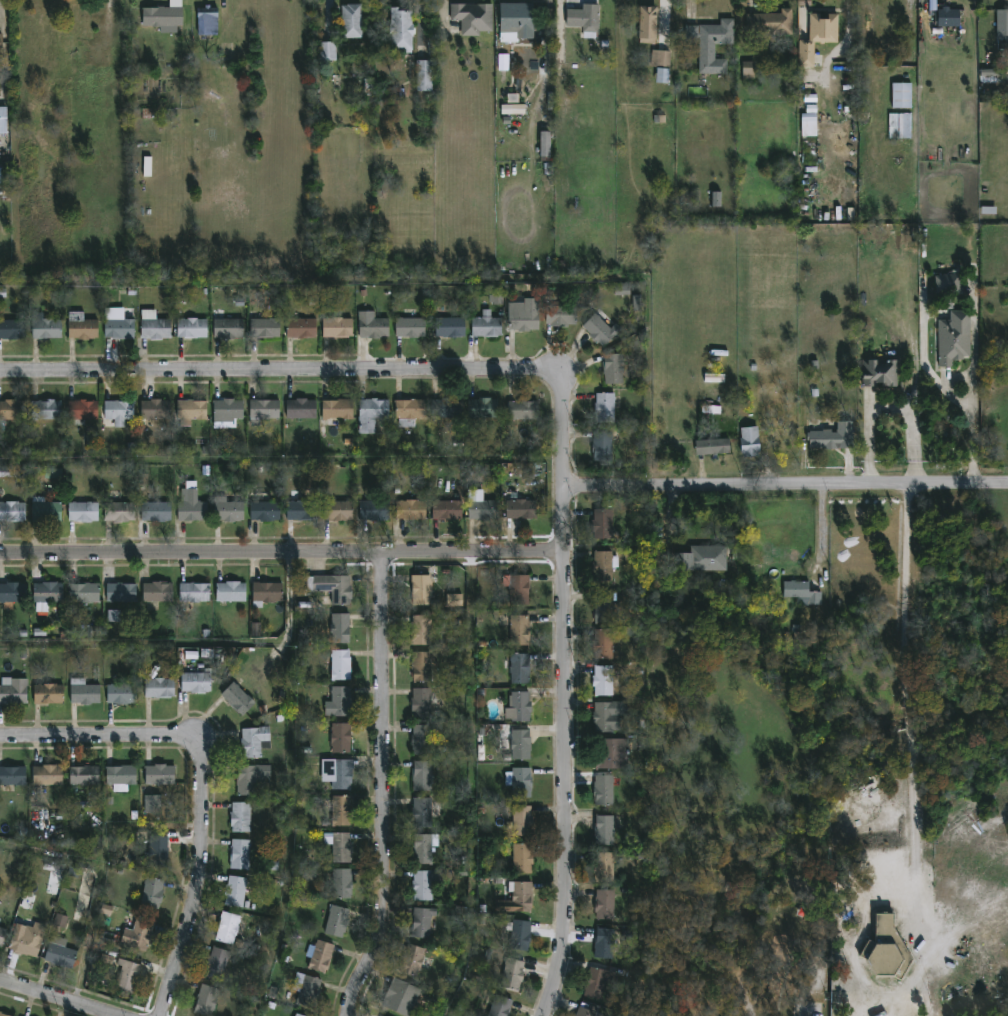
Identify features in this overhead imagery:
building: (803, 3)
building: (166, 16)
building: (475, 17)
building: (586, 17)
building: (945, 17)
building: (885, 19)
building: (353, 20)
building: (209, 21)
building: (519, 21)
building: (766, 22)
building: (651, 24)
building: (1001, 25)
building: (403, 30)
building: (814, 36)
building: (1, 43)
building: (710, 43)
building: (1006, 44)
building: (329, 50)
building: (663, 64)
building: (748, 70)
building: (988, 73)
building: (426, 75)
building: (899, 95)
building: (4, 120)
building: (806, 125)
building: (897, 127)
building: (544, 144)
building: (147, 166)
building: (3, 176)
building: (715, 199)
building: (948, 284)
building: (621, 289)
building: (496, 298)
building: (637, 303)
building: (526, 315)
building: (562, 315)
building: (156, 326)
building: (229, 326)
building: (374, 326)
building: (488, 326)
building: (47, 327)
building: (83, 327)
building: (339, 327)
building: (412, 327)
building: (452, 327)
building: (121, 328)
building: (194, 328)
building: (267, 328)
building: (303, 328)
building: (12, 329)
building: (604, 331)
building: (950, 343)
building: (617, 368)
road: (276, 371)
building: (878, 374)
building: (713, 378)
building: (608, 407)
building: (303, 408)
building: (448, 408)
building: (484, 408)
building: (412, 409)
building: (712, 409)
building: (13, 410)
building: (48, 410)
building: (84, 410)
building: (121, 410)
building: (158, 410)
building: (194, 410)
building: (339, 410)
building: (524, 410)
building: (265, 411)
building: (229, 412)
building: (374, 415)
road: (972, 431)
building: (830, 436)
building: (746, 439)
building: (599, 444)
building: (708, 445)
building: (5, 471)
building: (52, 473)
road: (785, 487)
building: (193, 505)
building: (266, 507)
building: (339, 508)
building: (412, 508)
building: (486, 508)
building: (523, 508)
building: (47, 509)
building: (230, 509)
building: (303, 509)
building: (376, 509)
building: (450, 509)
building: (13, 510)
building: (85, 510)
building: (158, 510)
building: (121, 511)
road: (669, 516)
building: (606, 520)
road: (823, 533)
road: (280, 550)
building: (696, 559)
building: (605, 564)
building: (333, 587)
building: (423, 588)
building: (521, 588)
building: (160, 591)
building: (196, 591)
building: (232, 591)
building: (13, 592)
building: (86, 592)
building: (123, 592)
building: (799, 592)
building: (268, 593)
building: (49, 594)
building: (454, 599)
building: (606, 606)
building: (113, 616)
building: (341, 627)
building: (423, 628)
building: (522, 629)
building: (95, 631)
building: (605, 643)
building: (342, 663)
building: (423, 665)
building: (522, 667)
building: (604, 678)
building: (198, 682)
building: (161, 687)
building: (14, 690)
building: (85, 691)
road: (906, 691)
building: (50, 693)
building: (123, 693)
road: (563, 694)
building: (239, 698)
building: (340, 701)
building: (426, 701)
building: (520, 706)
building: (611, 714)
building: (343, 737)
building: (424, 739)
building: (256, 740)
building: (522, 744)
building: (613, 753)
building: (339, 772)
building: (13, 774)
building: (162, 774)
building: (50, 775)
building: (86, 775)
building: (424, 775)
building: (122, 776)
building: (253, 778)
building: (521, 781)
park: (841, 783)
road: (201, 785)
road: (389, 788)
building: (606, 789)
building: (152, 804)
building: (427, 809)
building: (342, 811)
building: (242, 817)
building: (523, 820)
building: (607, 830)
building: (341, 845)
building: (425, 849)
building: (160, 850)
building: (242, 854)
building: (522, 857)
building: (607, 866)
building: (73, 872)
building: (342, 882)
building: (427, 883)
building: (238, 891)
building: (154, 893)
building: (515, 900)
building: (607, 903)
building: (106, 909)
building: (60, 920)
building: (339, 921)
building: (424, 921)
building: (229, 927)
building: (521, 934)
building: (2, 935)
building: (139, 935)
building: (26, 941)
building: (606, 943)
building: (885, 949)
building: (61, 951)
building: (323, 956)
building: (106, 959)
building: (414, 960)
building: (219, 962)
building: (514, 973)
building: (129, 975)
building: (598, 982)
building: (310, 992)
road: (60, 995)
building: (400, 997)
building: (209, 1000)
building: (501, 1005)
building: (589, 1009)
building: (5, 1014)
building: (297, 1015)
building: (300, 1015)
building: (577, 1015)

